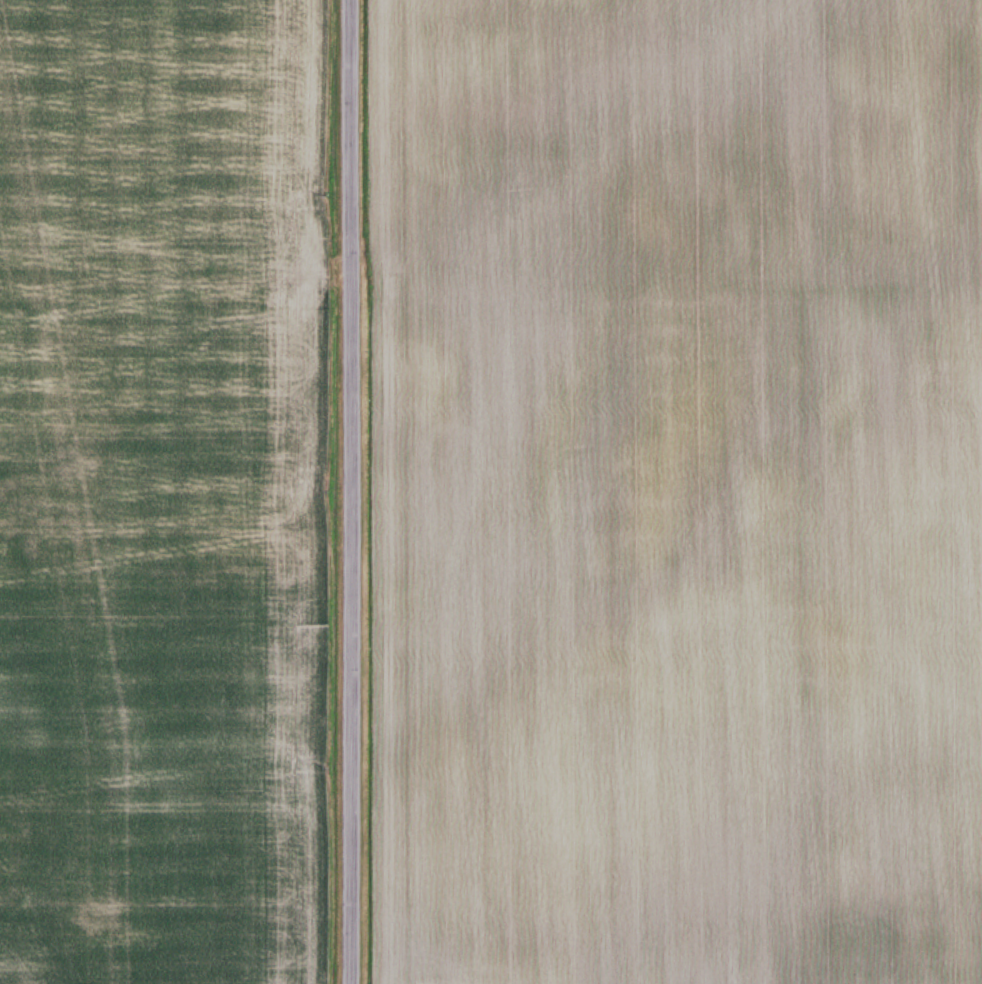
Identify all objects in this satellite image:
road: (348, 492)

